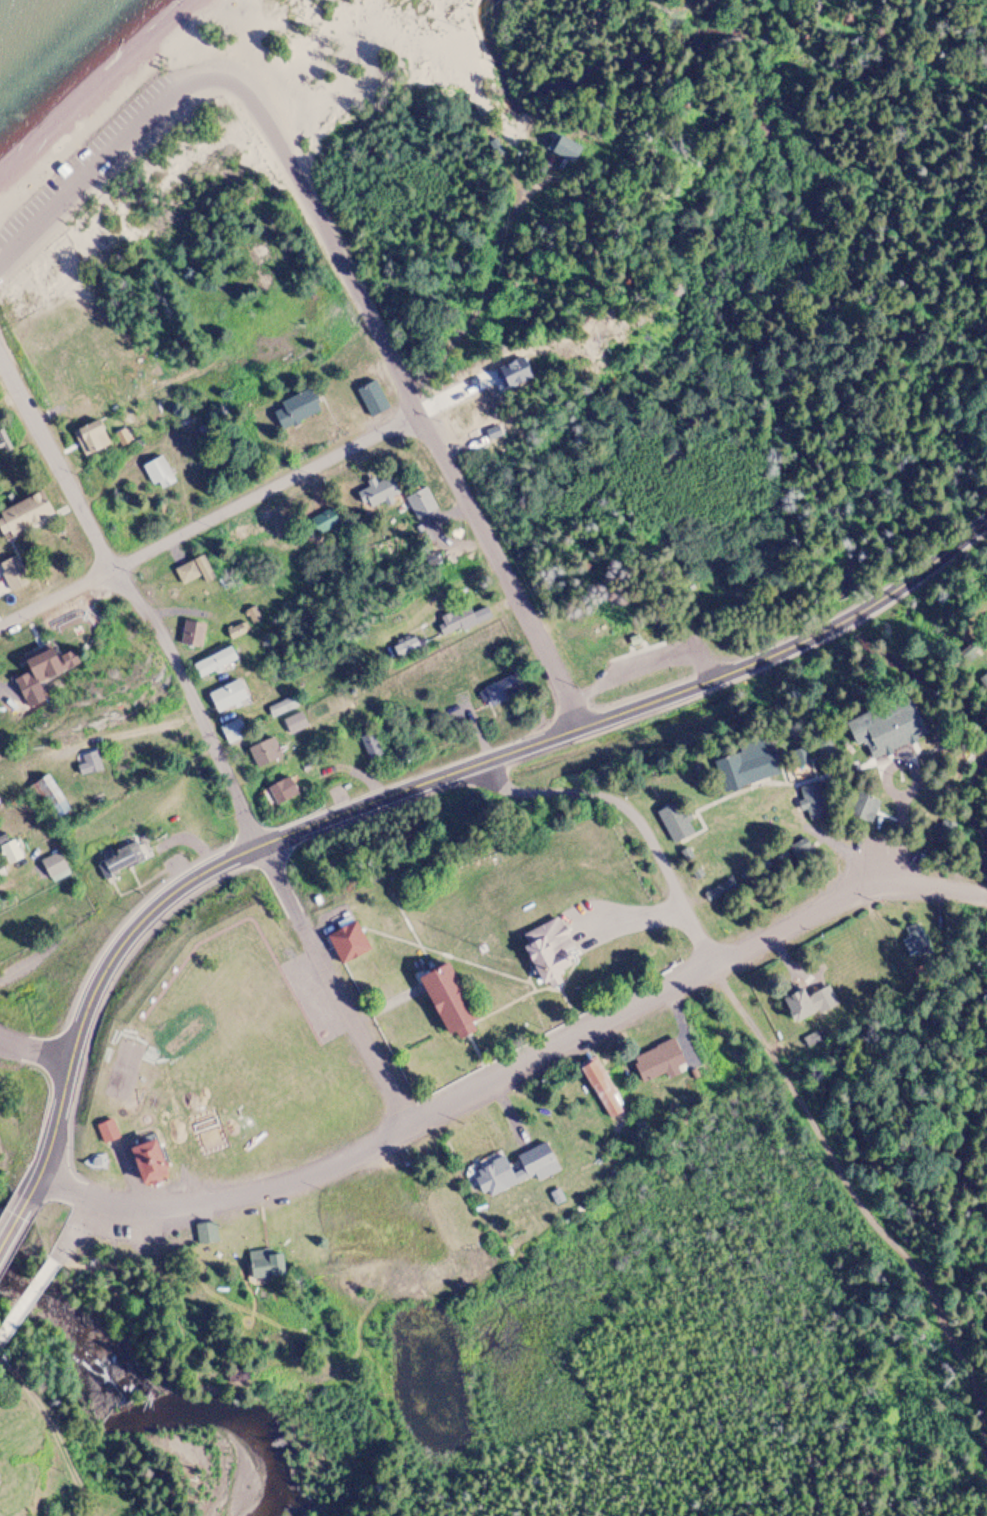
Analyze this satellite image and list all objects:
parking lot: (106, 148)
road: (118, 159)
building: (64, 166)
road: (500, 216)
building: (371, 398)
building: (296, 408)
road: (415, 411)
building: (90, 437)
building: (3, 444)
building: (157, 471)
building: (379, 489)
building: (24, 514)
road: (207, 518)
building: (324, 520)
road: (955, 545)
building: (192, 570)
building: (11, 574)
building: (461, 620)
building: (235, 631)
building: (197, 635)
building: (632, 640)
road: (641, 644)
road: (626, 649)
road: (632, 652)
building: (218, 659)
building: (41, 660)
parking lot: (664, 661)
road: (642, 669)
building: (499, 690)
building: (227, 695)
building: (281, 707)
road: (598, 719)
building: (293, 723)
building: (886, 728)
building: (232, 730)
road: (208, 737)
building: (371, 748)
building: (263, 752)
building: (89, 763)
building: (739, 771)
building: (281, 790)
road: (563, 793)
building: (49, 795)
building: (8, 796)
building: (808, 798)
building: (863, 808)
building: (674, 821)
road: (876, 848)
building: (10, 851)
building: (120, 859)
building: (55, 866)
building: (1, 870)
road: (928, 884)
building: (721, 893)
road: (679, 896)
building: (912, 941)
building: (551, 947)
road: (94, 985)
building: (449, 999)
building: (809, 1002)
road: (34, 1050)
building: (659, 1060)
park: (124, 1070)
building: (602, 1089)
road: (465, 1094)
road: (802, 1107)
building: (107, 1130)
building: (150, 1161)
building: (511, 1169)
parking lot: (115, 1219)
road: (14, 1224)
road: (71, 1228)
building: (207, 1232)
building: (267, 1264)
road: (26, 1298)
river: (159, 1414)

